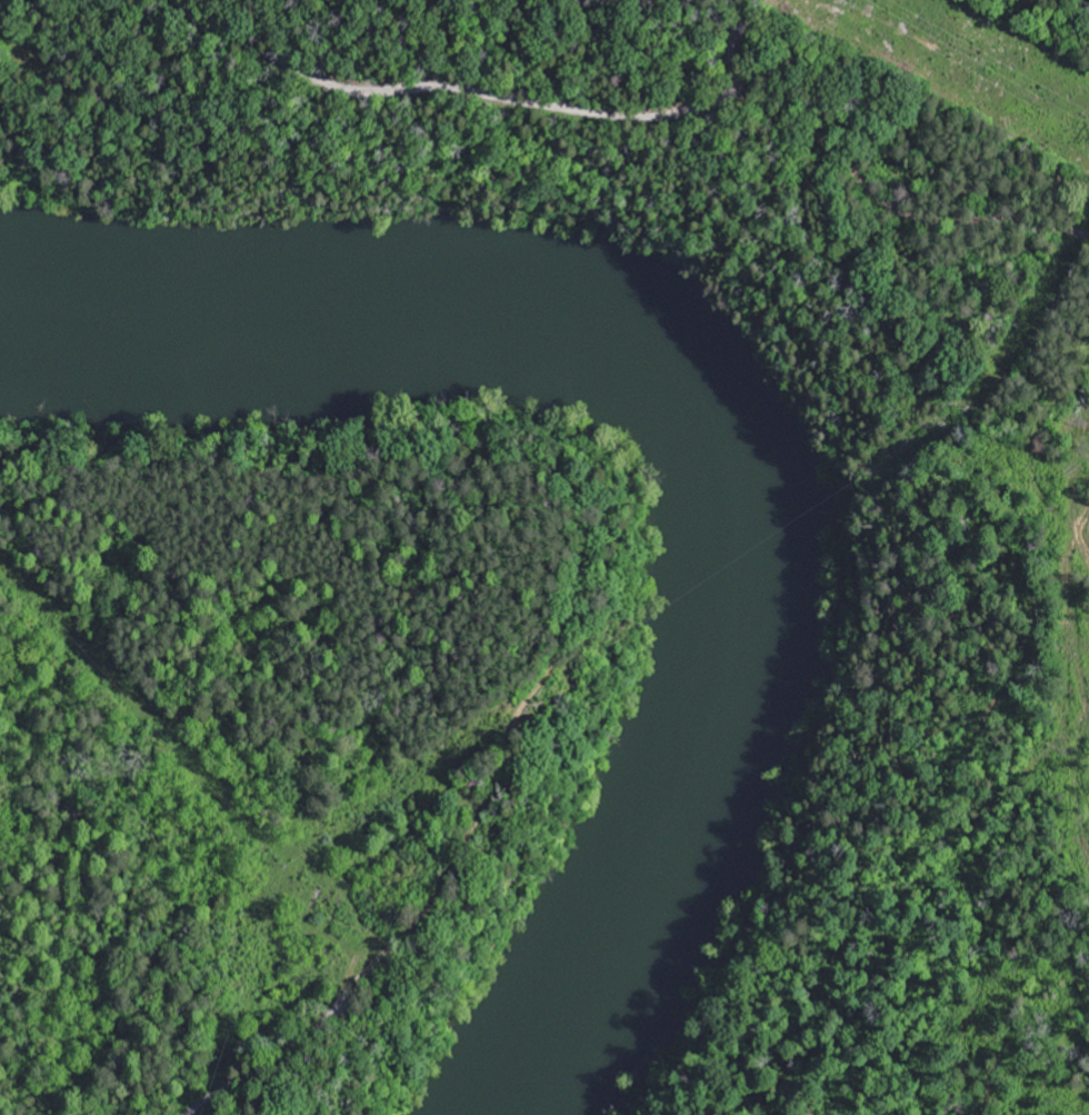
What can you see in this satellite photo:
road: (436, 84)
road: (900, 168)
road: (891, 178)
river: (728, 416)
road: (258, 1064)

